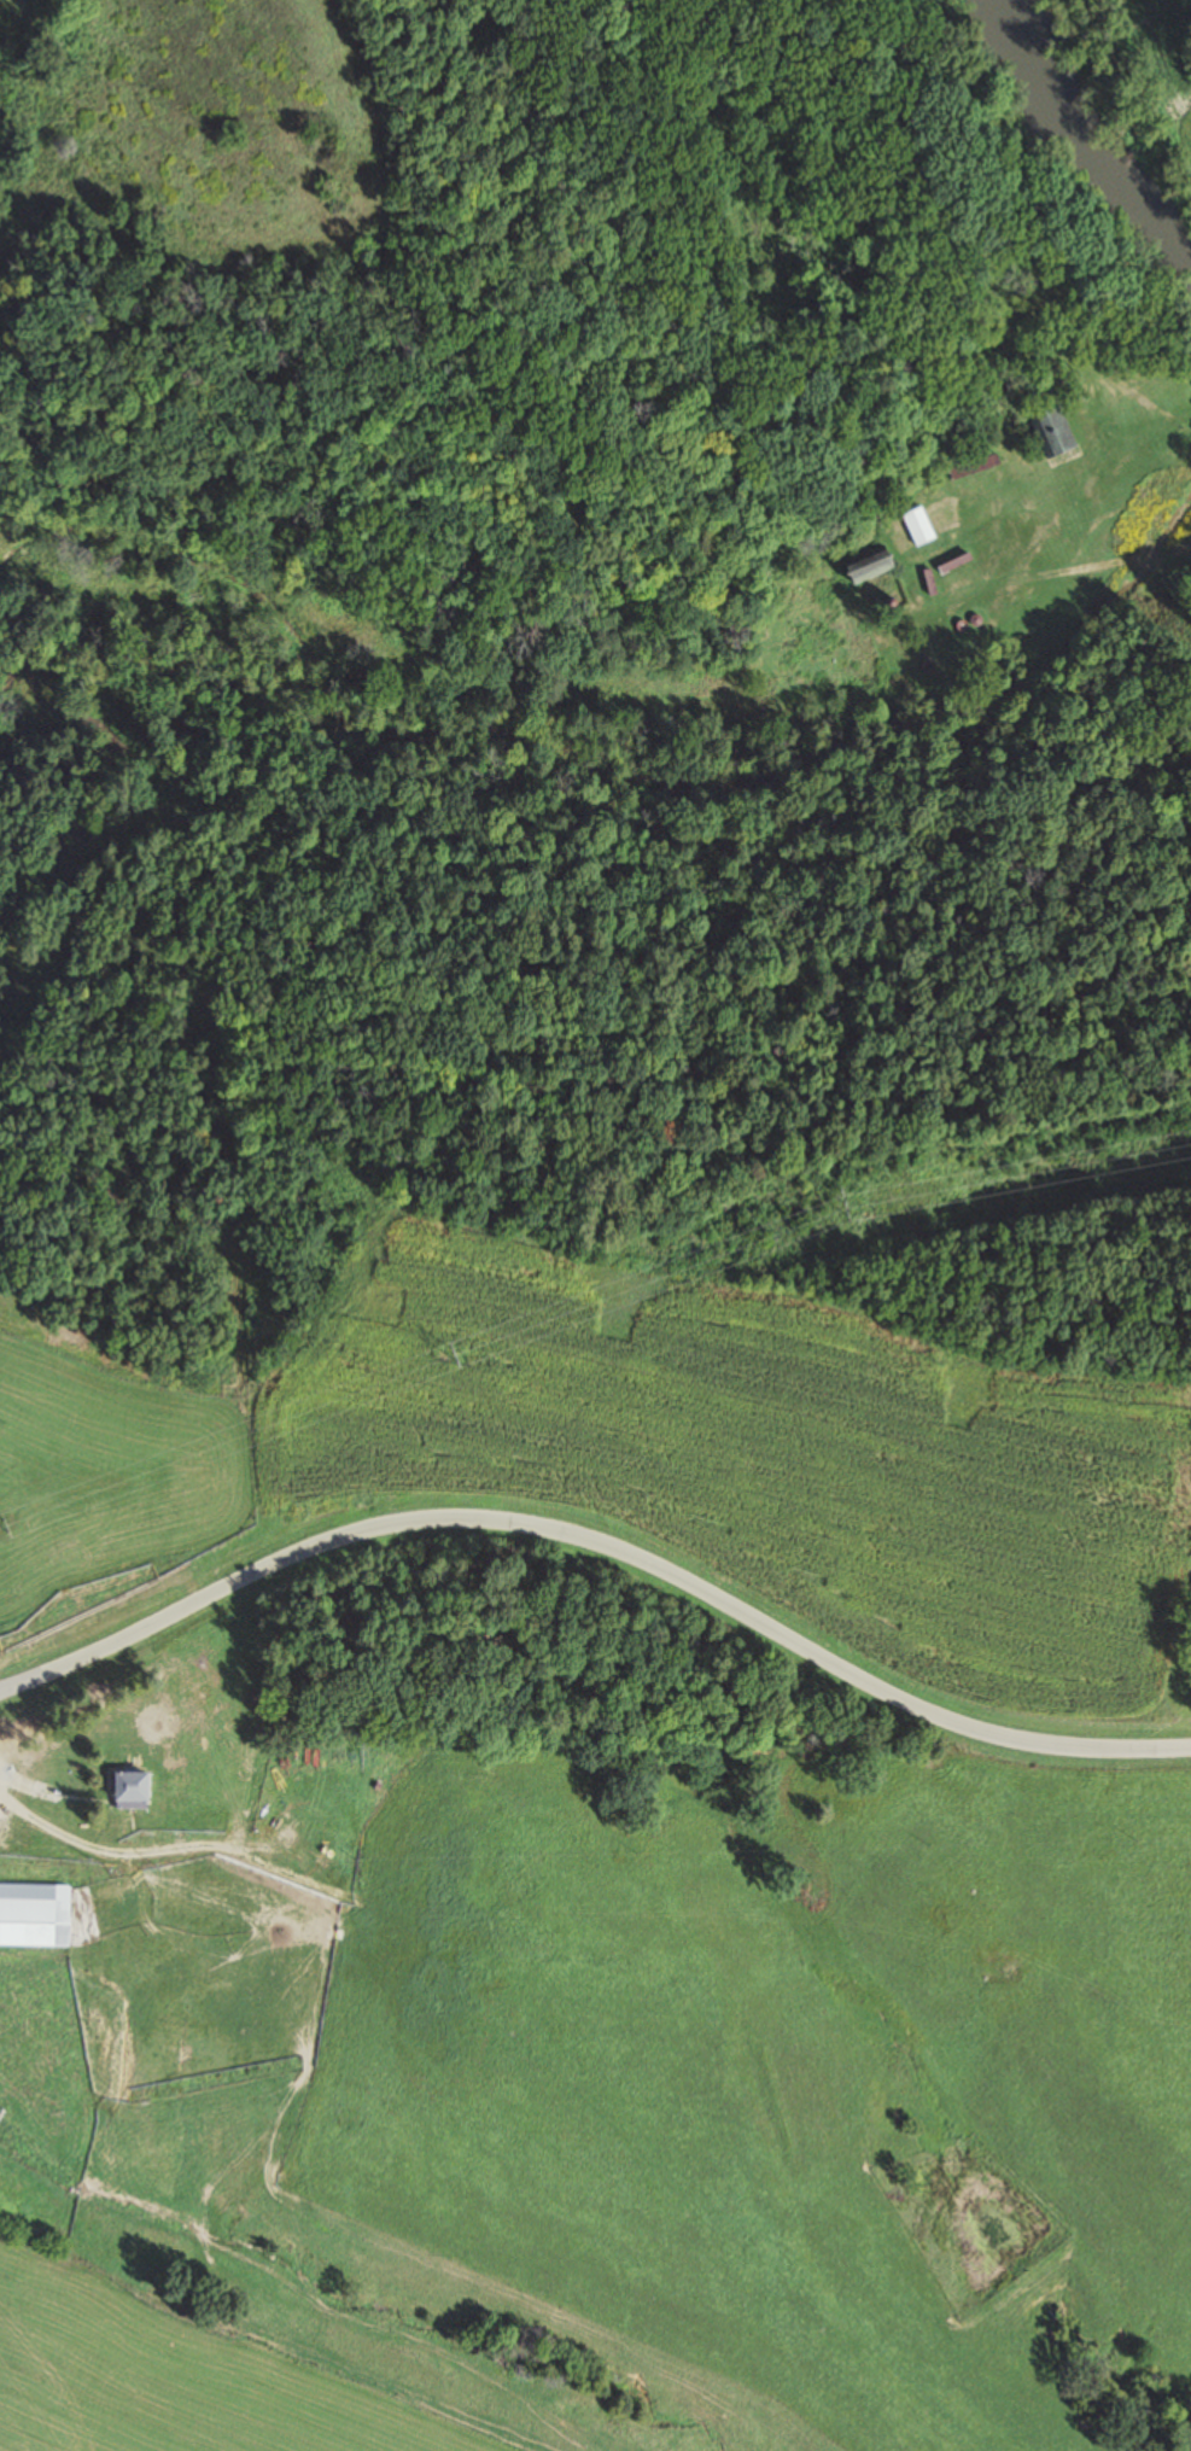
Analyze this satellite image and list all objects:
river: (1064, 158)
road: (1061, 357)
building: (1049, 431)
building: (968, 467)
building: (917, 525)
building: (864, 566)
building: (865, 695)
power tower: (843, 1202)
power tower: (448, 1354)
power tower: (6, 1522)
road: (601, 1550)
building: (127, 1791)
building: (33, 1914)

